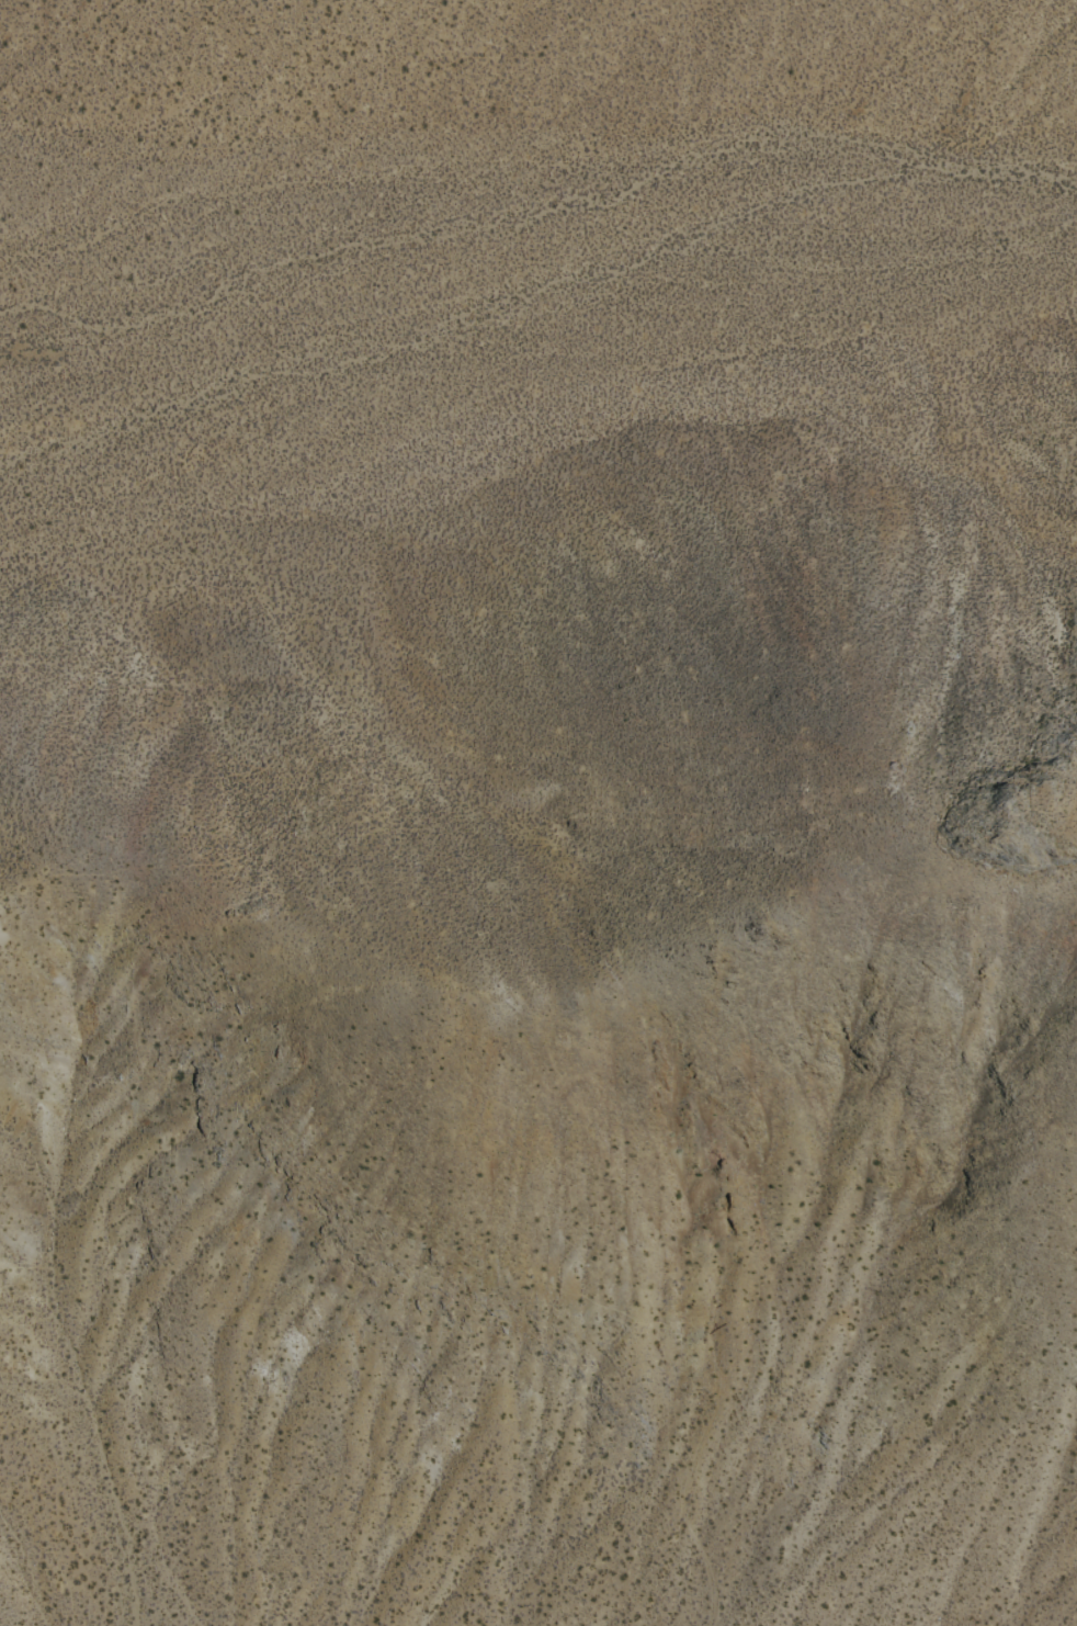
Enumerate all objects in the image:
road: (687, 1491)

